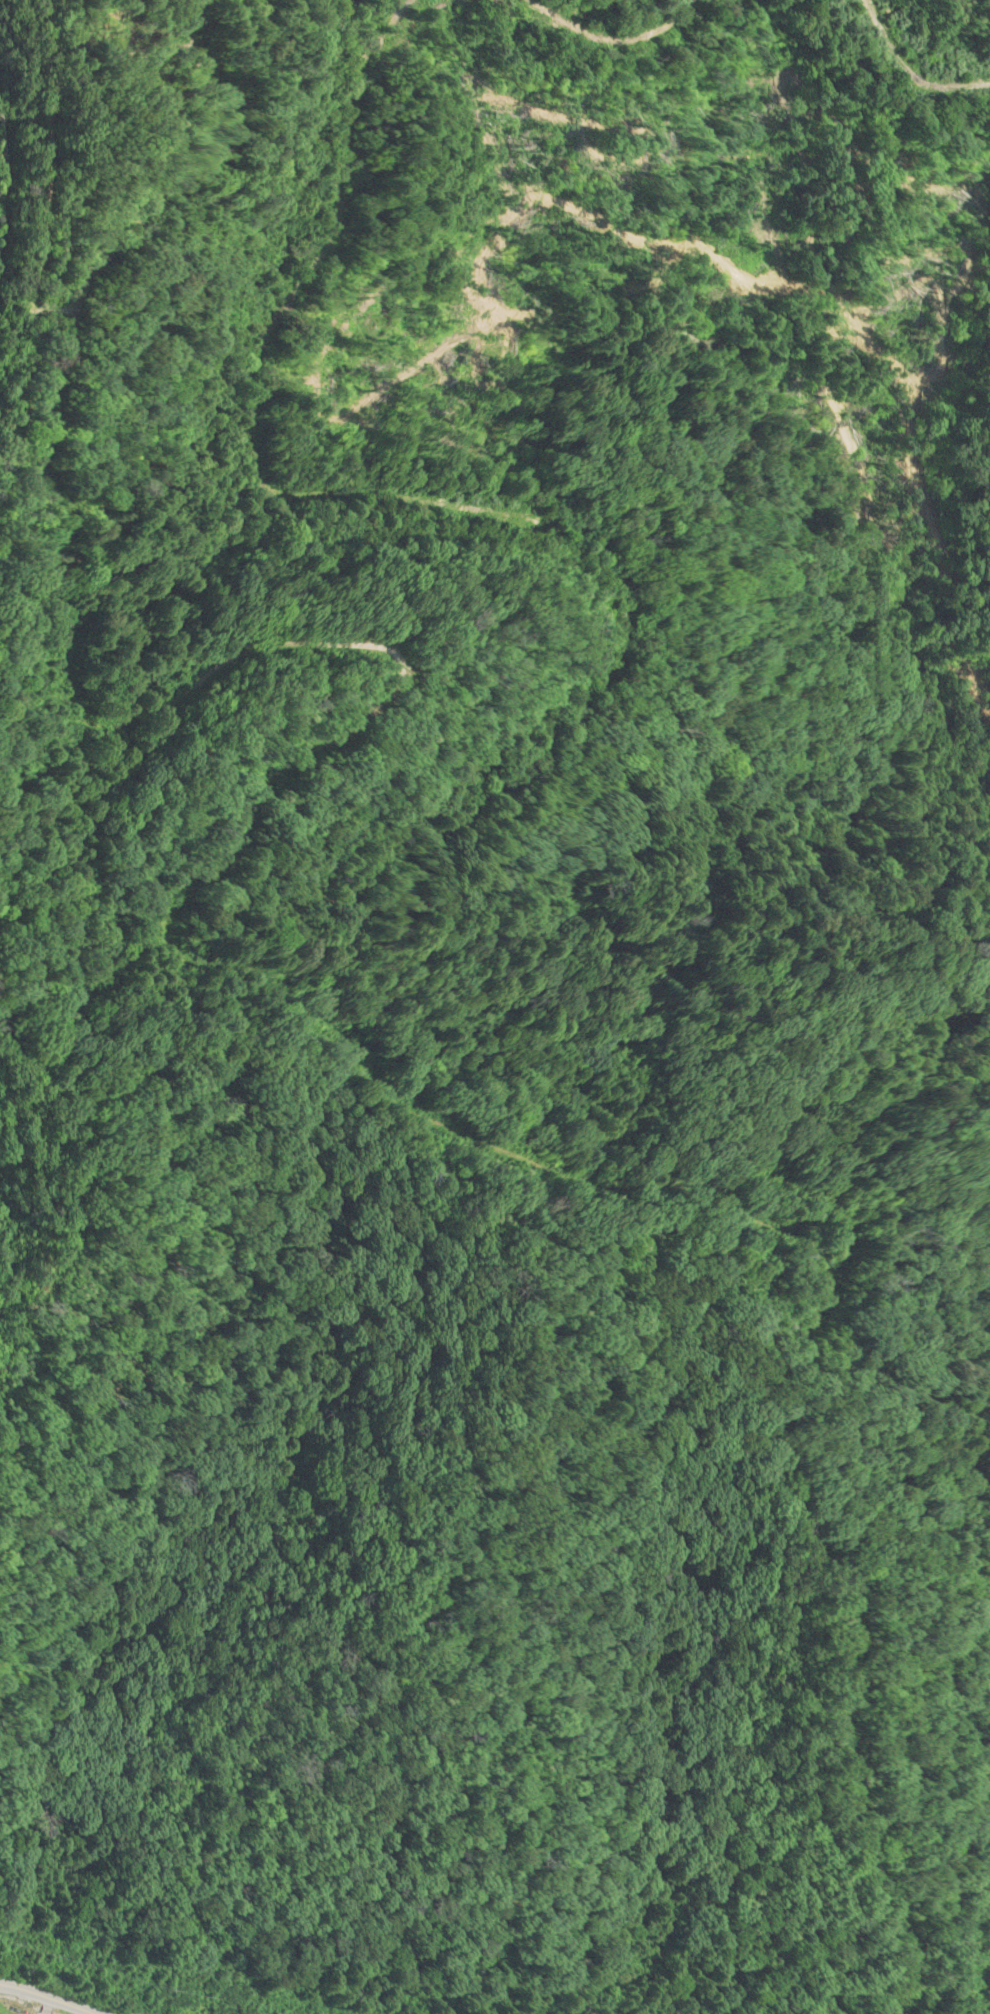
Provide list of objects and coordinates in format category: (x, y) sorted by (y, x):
road: (49, 1997)

